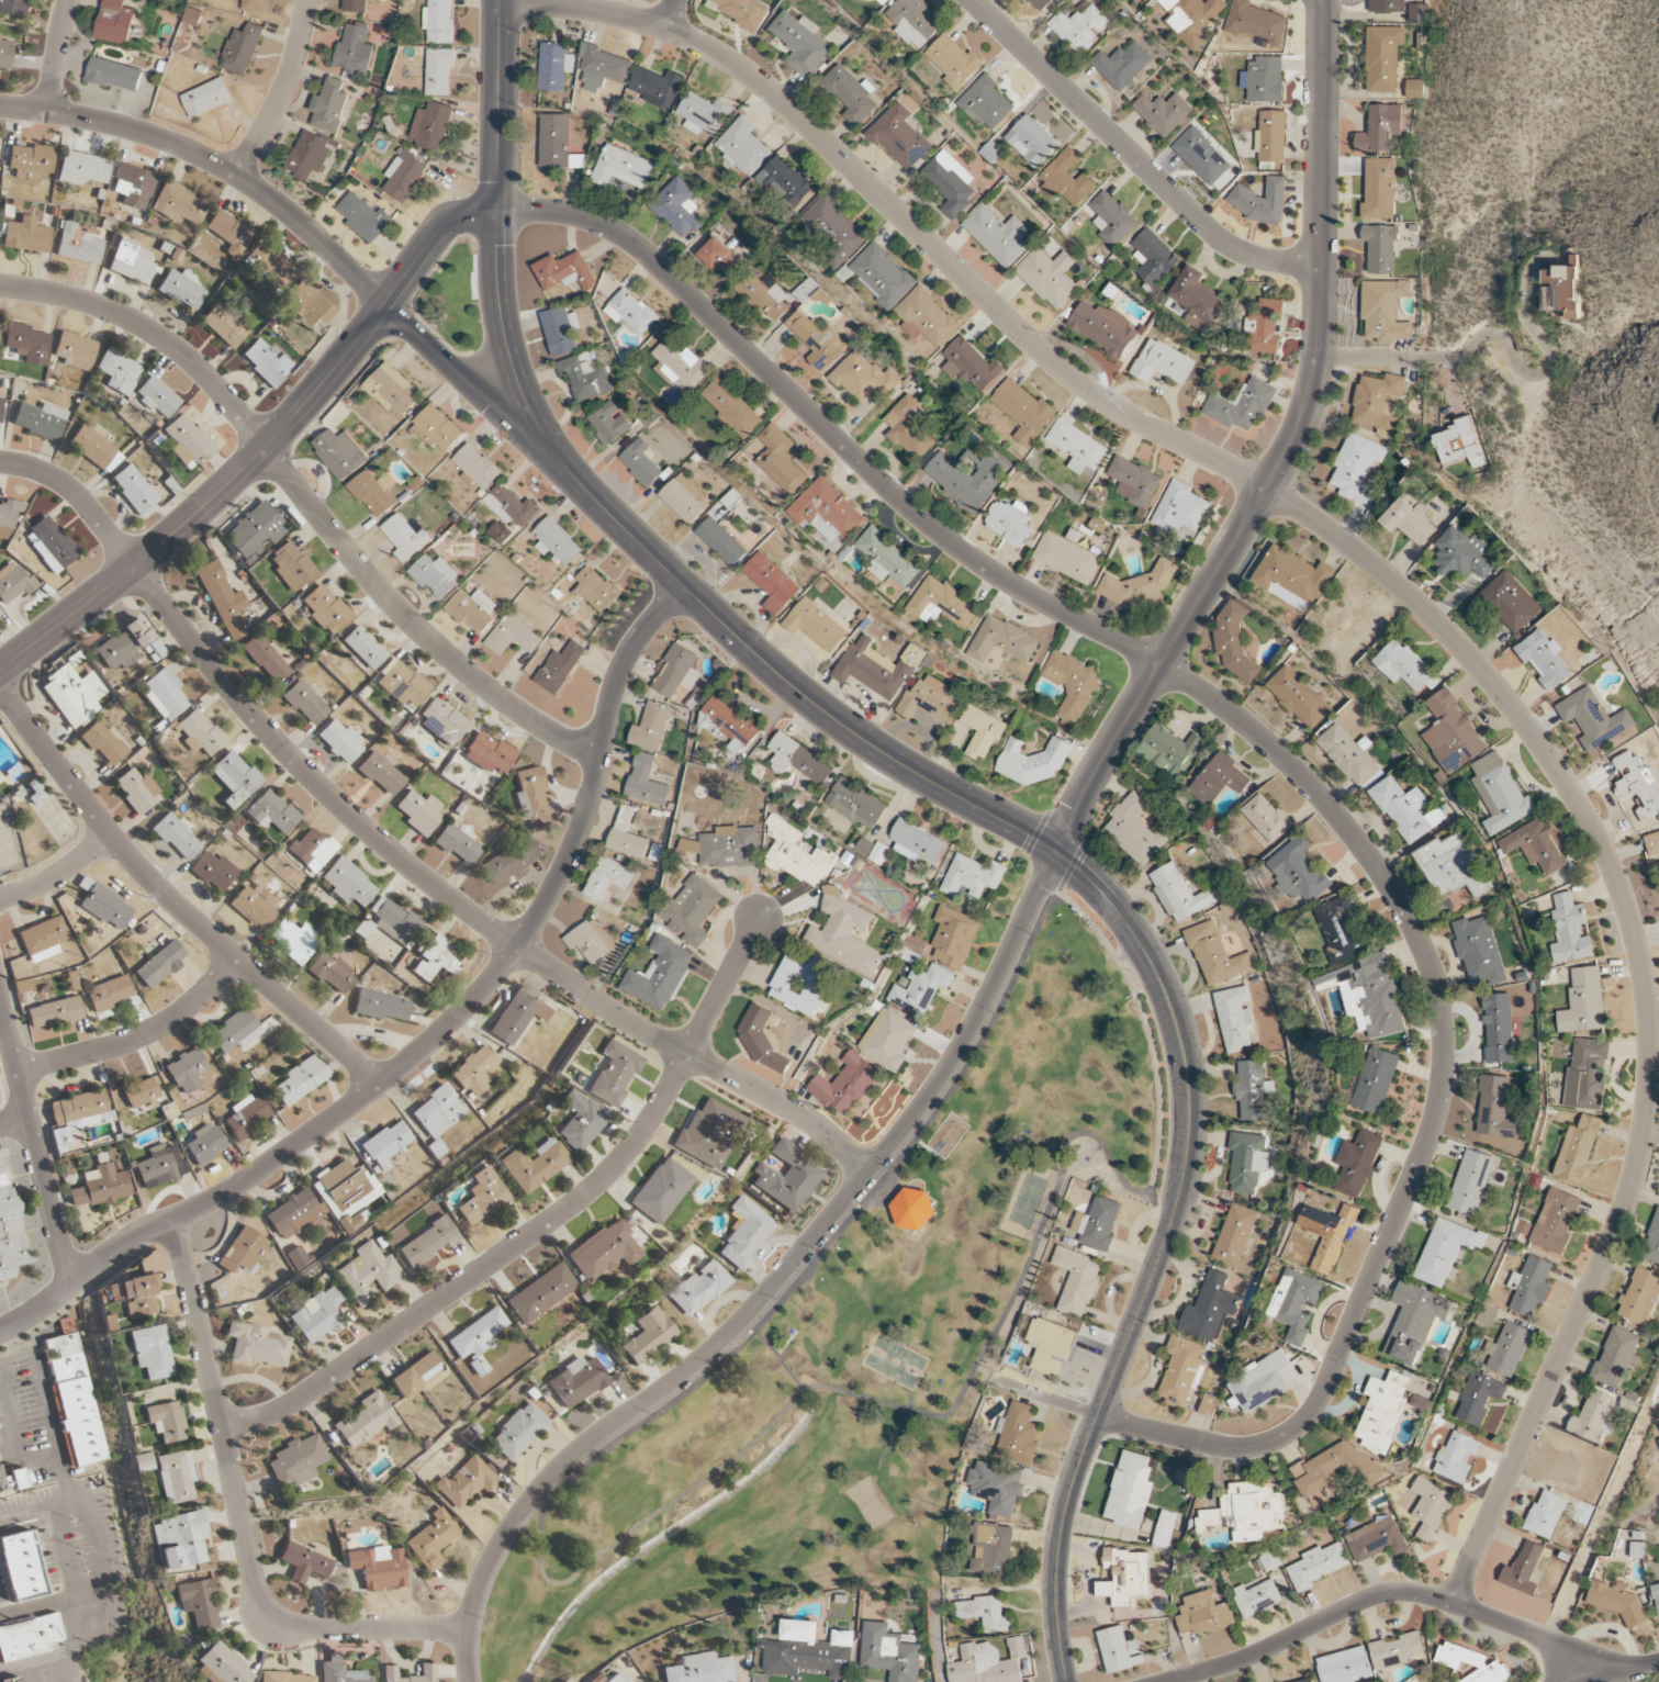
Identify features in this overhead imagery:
building: (870, 0)
building: (883, 1)
building: (1039, 4)
building: (255, 5)
building: (355, 5)
building: (1388, 5)
building: (12, 7)
building: (743, 12)
building: (1419, 13)
road: (666, 14)
building: (193, 16)
building: (1192, 19)
building: (439, 21)
building: (915, 21)
building: (115, 22)
building: (1255, 22)
building: (1079, 26)
building: (1420, 41)
building: (800, 43)
building: (242, 49)
building: (354, 49)
building: (5, 54)
road: (56, 55)
building: (1382, 58)
building: (953, 61)
building: (1122, 65)
building: (554, 67)
building: (603, 68)
building: (439, 71)
building: (114, 75)
building: (1264, 80)
building: (655, 87)
building: (1414, 89)
road: (281, 91)
building: (850, 94)
building: (208, 98)
building: (985, 103)
road: (483, 104)
building: (329, 105)
road: (511, 105)
building: (1163, 113)
building: (704, 114)
building: (430, 126)
building: (1380, 128)
building: (1270, 136)
building: (899, 137)
building: (554, 141)
building: (1031, 142)
building: (743, 147)
building: (309, 155)
building: (1200, 156)
road: (1132, 157)
building: (30, 161)
road: (212, 162)
building: (80, 168)
building: (621, 168)
building: (404, 176)
building: (1065, 179)
building: (787, 181)
building: (950, 182)
building: (132, 187)
building: (1379, 189)
building: (1263, 202)
building: (177, 203)
building: (677, 208)
building: (363, 217)
building: (1111, 218)
building: (834, 231)
building: (228, 233)
building: (25, 235)
building: (997, 235)
building: (78, 245)
building: (1380, 248)
building: (1153, 257)
building: (721, 259)
building: (132, 261)
building: (267, 263)
building: (564, 271)
building: (882, 276)
building: (1049, 277)
building: (181, 288)
building: (1565, 288)
building: (804, 290)
building: (763, 296)
building: (1197, 299)
building: (311, 303)
building: (1385, 311)
building: (630, 312)
building: (927, 317)
building: (224, 325)
building: (1265, 326)
building: (1103, 328)
building: (559, 332)
building: (815, 338)
building: (26, 344)
building: (74, 350)
road: (1392, 357)
building: (267, 362)
building: (680, 363)
building: (1162, 363)
road: (1549, 365)
building: (971, 366)
building: (117, 372)
building: (585, 375)
building: (863, 377)
road: (475, 388)
building: (392, 390)
building: (157, 396)
building: (1377, 403)
building: (1241, 405)
building: (731, 407)
building: (1, 408)
building: (1023, 411)
building: (40, 420)
building: (609, 423)
building: (908, 428)
building: (437, 429)
building: (187, 441)
building: (1459, 444)
building: (1077, 447)
building: (94, 449)
road: (262, 449)
building: (340, 453)
building: (781, 460)
building: (641, 462)
building: (477, 467)
building: (1357, 469)
building: (966, 478)
building: (1134, 482)
building: (134, 490)
building: (371, 494)
building: (683, 498)
road: (309, 500)
building: (511, 506)
building: (1180, 507)
building: (827, 508)
building: (9, 517)
building: (1010, 523)
building: (1410, 523)
building: (255, 530)
building: (404, 537)
building: (721, 541)
building: (557, 542)
building: (51, 545)
building: (1461, 556)
building: (1066, 558)
building: (887, 559)
building: (291, 567)
building: (435, 576)
building: (1292, 579)
building: (14, 583)
building: (771, 583)
building: (1137, 585)
building: (596, 590)
building: (222, 599)
road: (1413, 599)
building: (941, 604)
building: (1507, 604)
building: (325, 609)
building: (472, 609)
building: (0, 613)
building: (815, 626)
building: (512, 636)
building: (1002, 641)
building: (1234, 642)
building: (123, 646)
building: (363, 647)
building: (155, 651)
building: (265, 659)
building: (1544, 659)
building: (1404, 666)
building: (559, 668)
building: (876, 668)
building: (1072, 684)
building: (402, 685)
building: (74, 694)
building: (164, 694)
building: (1298, 697)
building: (927, 700)
building: (304, 703)
building: (1594, 719)
building: (441, 721)
building: (728, 722)
building: (651, 727)
building: (983, 731)
building: (199, 732)
building: (1451, 732)
building: (340, 741)
building: (103, 743)
building: (1169, 750)
road: (1275, 752)
building: (487, 753)
building: (1349, 755)
building: (797, 760)
building: (1034, 762)
building: (380, 774)
building: (234, 778)
building: (1219, 780)
building: (646, 782)
building: (1638, 784)
building: (137, 790)
building: (35, 793)
building: (1500, 794)
building: (531, 795)
road: (963, 799)
building: (856, 804)
building: (1405, 809)
building: (418, 811)
building: (270, 812)
building: (1267, 818)
building: (1134, 830)
building: (627, 836)
building: (176, 837)
building: (917, 842)
building: (1651, 844)
building: (457, 845)
building: (1536, 845)
building: (692, 846)
building: (729, 848)
building: (312, 850)
building: (872, 851)
building: (797, 855)
road: (396, 856)
building: (511, 861)
building: (1658, 865)
building: (1451, 867)
building: (1299, 871)
building: (213, 872)
road: (59, 875)
building: (972, 877)
building: (608, 879)
building: (347, 883)
road: (1064, 884)
building: (1178, 894)
road: (176, 900)
building: (103, 904)
road: (1028, 907)
building: (251, 908)
building: (692, 910)
road: (1083, 920)
building: (393, 921)
building: (1338, 930)
building: (1569, 931)
building: (845, 934)
building: (953, 937)
building: (42, 939)
building: (294, 941)
building: (590, 941)
building: (1478, 951)
building: (1215, 955)
building: (434, 958)
building: (160, 964)
building: (330, 974)
building: (660, 974)
building: (802, 984)
building: (921, 989)
building: (109, 994)
building: (1367, 996)
building: (1583, 1002)
building: (380, 1006)
building: (54, 1012)
building: (517, 1016)
building: (1234, 1018)
building: (1498, 1028)
building: (235, 1032)
road: (137, 1038)
road: (435, 1039)
building: (760, 1039)
building: (887, 1040)
building: (186, 1070)
building: (475, 1072)
building: (615, 1073)
building: (1587, 1075)
building: (300, 1080)
building: (1376, 1080)
building: (844, 1085)
building: (1252, 1090)
building: (139, 1092)
building: (1495, 1108)
building: (247, 1115)
building: (76, 1118)
road: (13, 1121)
building: (580, 1121)
building: (709, 1133)
road: (33, 1142)
building: (205, 1144)
building: (386, 1144)
building: (1577, 1150)
building: (1246, 1162)
building: (1357, 1163)
building: (534, 1165)
building: (160, 1166)
building: (785, 1177)
building: (1470, 1182)
building: (100, 1185)
building: (661, 1190)
building: (347, 1193)
building: (482, 1197)
park: (1029, 1199)
building: (912, 1210)
building: (1555, 1221)
building: (1098, 1223)
road: (540, 1225)
building: (9, 1227)
building: (746, 1233)
building: (1327, 1235)
building: (1234, 1236)
building: (1652, 1241)
building: (428, 1243)
building: (243, 1251)
building: (604, 1251)
building: (1446, 1252)
building: (298, 1258)
building: (367, 1272)
building: (1077, 1280)
building: (1529, 1286)
building: (698, 1288)
building: (113, 1290)
building: (138, 1293)
building: (541, 1293)
building: (1640, 1296)
building: (1294, 1303)
building: (1209, 1309)
building: (317, 1315)
building: (1414, 1321)
road: (758, 1328)
building: (648, 1336)
building: (475, 1339)
building: (256, 1345)
road: (29, 1346)
park: (856, 1346)
building: (1050, 1346)
building: (1507, 1349)
building: (149, 1352)
building: (1616, 1357)
road: (780, 1359)
park: (894, 1363)
building: (1180, 1370)
building: (417, 1376)
building: (1264, 1381)
building: (576, 1382)
building: (74, 1397)
building: (1478, 1398)
road: (873, 1400)
building: (1421, 1403)
building: (1208, 1405)
building: (1382, 1412)
building: (1592, 1416)
road: (900, 1419)
building: (366, 1421)
building: (164, 1422)
building: (518, 1432)
building: (1018, 1434)
road: (13, 1447)
building: (1457, 1458)
building: (298, 1461)
building: (139, 1462)
road: (59, 1464)
building: (1568, 1466)
building: (1312, 1470)
building: (172, 1477)
building: (11, 1479)
building: (466, 1482)
building: (997, 1487)
building: (1130, 1490)
park: (873, 1504)
building: (1431, 1507)
building: (1256, 1511)
road: (33, 1512)
building: (1546, 1514)
road: (1640, 1514)
road: (238, 1516)
building: (1210, 1520)
building: (1164, 1530)
building: (433, 1539)
building: (1376, 1539)
building: (178, 1540)
building: (991, 1548)
building: (1638, 1549)
road: (37, 1556)
building: (305, 1561)
building: (1318, 1566)
building: (21, 1567)
building: (378, 1568)
building: (1524, 1569)
building: (1125, 1576)
road: (1409, 1593)
road: (42, 1594)
building: (1656, 1597)
building: (1256, 1599)
building: (1616, 1600)
building: (197, 1603)
building: (984, 1613)
building: (1203, 1614)
building: (27, 1636)
road: (935, 1637)
building: (1119, 1650)
building: (809, 1651)
building: (1395, 1651)
building: (889, 1653)
building: (988, 1663)
building: (1471, 1664)
building: (217, 1666)
building: (1345, 1666)
building: (702, 1669)
building: (337, 1671)
building: (425, 1671)
road: (1579, 1672)
building: (283, 1678)
road: (1185, 1679)
building: (10, 1680)
building: (1307, 1681)

